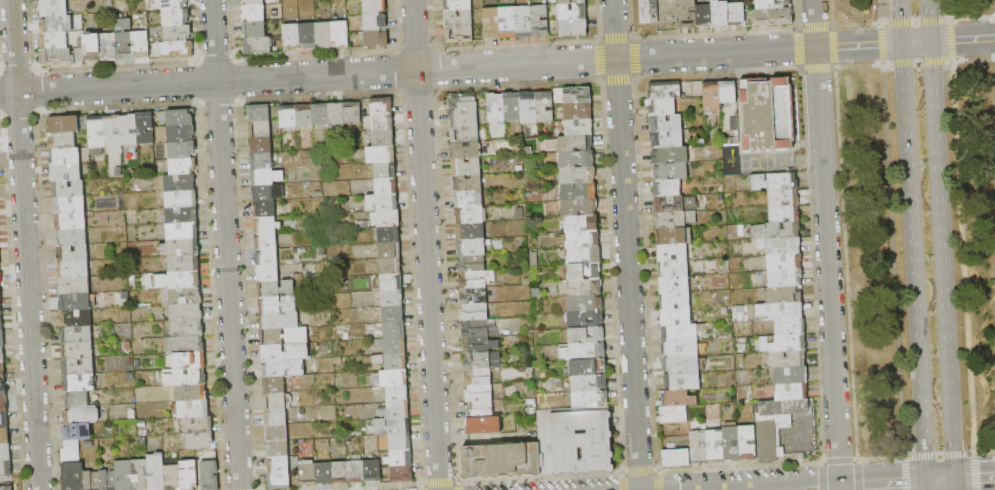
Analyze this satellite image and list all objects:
building: (50, 0)
building: (253, 2)
building: (571, 2)
building: (772, 4)
building: (173, 5)
building: (457, 5)
building: (374, 6)
building: (54, 8)
road: (949, 9)
building: (649, 11)
road: (878, 11)
building: (253, 13)
building: (568, 13)
building: (687, 14)
building: (720, 14)
building: (736, 14)
building: (668, 15)
building: (704, 16)
building: (772, 17)
building: (175, 18)
building: (458, 19)
road: (929, 20)
building: (524, 21)
building: (540, 21)
road: (900, 21)
building: (375, 22)
building: (508, 23)
building: (56, 24)
building: (492, 24)
building: (569, 28)
building: (254, 29)
building: (177, 34)
building: (324, 35)
building: (340, 35)
building: (459, 35)
building: (308, 36)
building: (292, 37)
building: (124, 39)
road: (962, 39)
building: (54, 40)
building: (376, 40)
traffic signals: (930, 41)
road: (915, 42)
road: (890, 43)
traffic signals: (901, 43)
building: (140, 45)
building: (257, 46)
road: (848, 46)
building: (109, 47)
building: (93, 48)
building: (178, 50)
building: (56, 57)
road: (951, 60)
road: (407, 70)
building: (664, 91)
building: (728, 92)
building: (577, 96)
building: (712, 97)
building: (463, 102)
building: (382, 106)
building: (512, 107)
building: (544, 107)
building: (663, 107)
building: (496, 108)
building: (528, 108)
building: (578, 112)
building: (260, 113)
building: (353, 113)
building: (336, 114)
building: (764, 114)
building: (320, 115)
building: (305, 116)
building: (289, 117)
building: (179, 118)
building: (464, 118)
building: (383, 122)
building: (63, 124)
building: (665, 124)
building: (145, 128)
building: (579, 128)
building: (260, 129)
building: (113, 131)
building: (180, 134)
building: (465, 134)
building: (384, 139)
building: (667, 140)
building: (62, 141)
building: (575, 143)
building: (261, 145)
building: (182, 150)
building: (466, 151)
building: (381, 155)
building: (671, 155)
building: (65, 158)
building: (576, 159)
building: (261, 161)
building: (183, 166)
building: (467, 167)
building: (385, 170)
building: (671, 171)
building: (66, 174)
building: (577, 176)
building: (266, 177)
building: (774, 182)
building: (179, 183)
building: (467, 183)
building: (386, 186)
building: (667, 188)
building: (68, 189)
building: (268, 192)
building: (579, 192)
building: (783, 198)
building: (181, 199)
building: (468, 199)
building: (382, 203)
building: (675, 204)
building: (70, 205)
building: (579, 207)
building: (265, 209)
building: (784, 213)
building: (181, 215)
building: (469, 215)
building: (388, 219)
building: (675, 220)
building: (71, 221)
building: (581, 224)
building: (267, 225)
building: (777, 230)
building: (182, 231)
building: (470, 231)
building: (388, 234)
building: (671, 236)
building: (71, 237)
park: (910, 238)
building: (583, 239)
building: (266, 241)
road: (25, 244)
road: (225, 244)
road: (826, 244)
road: (425, 245)
road: (626, 245)
building: (780, 246)
building: (180, 247)
building: (471, 247)
building: (390, 250)
building: (672, 253)
building: (73, 254)
building: (584, 256)
road: (962, 256)
building: (267, 257)
building: (0, 260)
road: (892, 260)
road: (942, 260)
building: (784, 262)
road: (913, 263)
building: (184, 264)
building: (472, 265)
building: (391, 266)
building: (673, 269)
building: (73, 271)
building: (585, 272)
building: (268, 273)
building: (0, 277)
building: (785, 279)
building: (184, 280)
building: (476, 280)
building: (391, 282)
building: (674, 285)
building: (74, 287)
building: (585, 287)
building: (276, 289)
building: (0, 295)
building: (783, 295)
building: (185, 296)
building: (474, 297)
building: (392, 298)
building: (675, 301)
building: (75, 303)
building: (584, 303)
building: (277, 305)
building: (0, 307)
building: (781, 311)
building: (475, 312)
building: (186, 313)
building: (393, 314)
building: (675, 317)
building: (75, 318)
building: (586, 319)
building: (279, 321)
building: (1, 323)
building: (790, 327)
building: (187, 329)
building: (477, 329)
building: (394, 330)
building: (679, 333)
building: (77, 335)
building: (586, 335)
building: (284, 336)
building: (2, 339)
building: (790, 344)
building: (188, 345)
building: (480, 345)
building: (395, 346)
building: (297, 349)
building: (680, 349)
building: (77, 351)
building: (584, 351)
building: (2, 356)
building: (787, 360)
building: (189, 361)
building: (391, 361)
building: (480, 361)
building: (681, 365)
building: (588, 367)
building: (78, 368)
building: (283, 368)
building: (2, 371)
building: (791, 376)
building: (185, 378)
building: (478, 378)
building: (394, 379)
building: (683, 382)
building: (589, 383)
building: (80, 384)
building: (274, 385)
building: (3, 388)
building: (792, 392)
building: (191, 393)
building: (480, 393)
building: (397, 394)
building: (590, 399)
building: (679, 399)
building: (77, 400)
building: (275, 401)
building: (3, 403)
building: (784, 408)
building: (193, 409)
building: (480, 409)
building: (395, 411)
building: (674, 415)
building: (82, 416)
building: (276, 417)
building: (3, 420)
building: (484, 425)
building: (197, 426)
building: (392, 426)
building: (77, 433)
building: (277, 433)
building: (4, 436)
building: (767, 439)
building: (575, 441)
building: (200, 442)
building: (400, 442)
building: (748, 442)
building: (732, 443)
building: (715, 446)
building: (699, 448)
building: (278, 449)
building: (5, 452)
building: (71, 452)
road: (939, 453)
building: (400, 458)
building: (676, 458)
building: (502, 461)
building: (279, 465)
building: (6, 469)
building: (372, 471)
building: (156, 472)
building: (356, 472)
building: (324, 473)
building: (340, 473)
building: (309, 474)
building: (402, 474)
building: (124, 475)
building: (140, 475)
building: (189, 475)
building: (210, 475)
building: (73, 476)
building: (173, 477)
building: (92, 480)
building: (108, 480)
road: (974, 480)
building: (279, 481)
traffic signals: (954, 481)
road: (940, 482)
traffic signals: (926, 483)
road: (882, 485)
road: (954, 485)
road: (926, 486)
building: (6, 488)
road: (816, 489)

